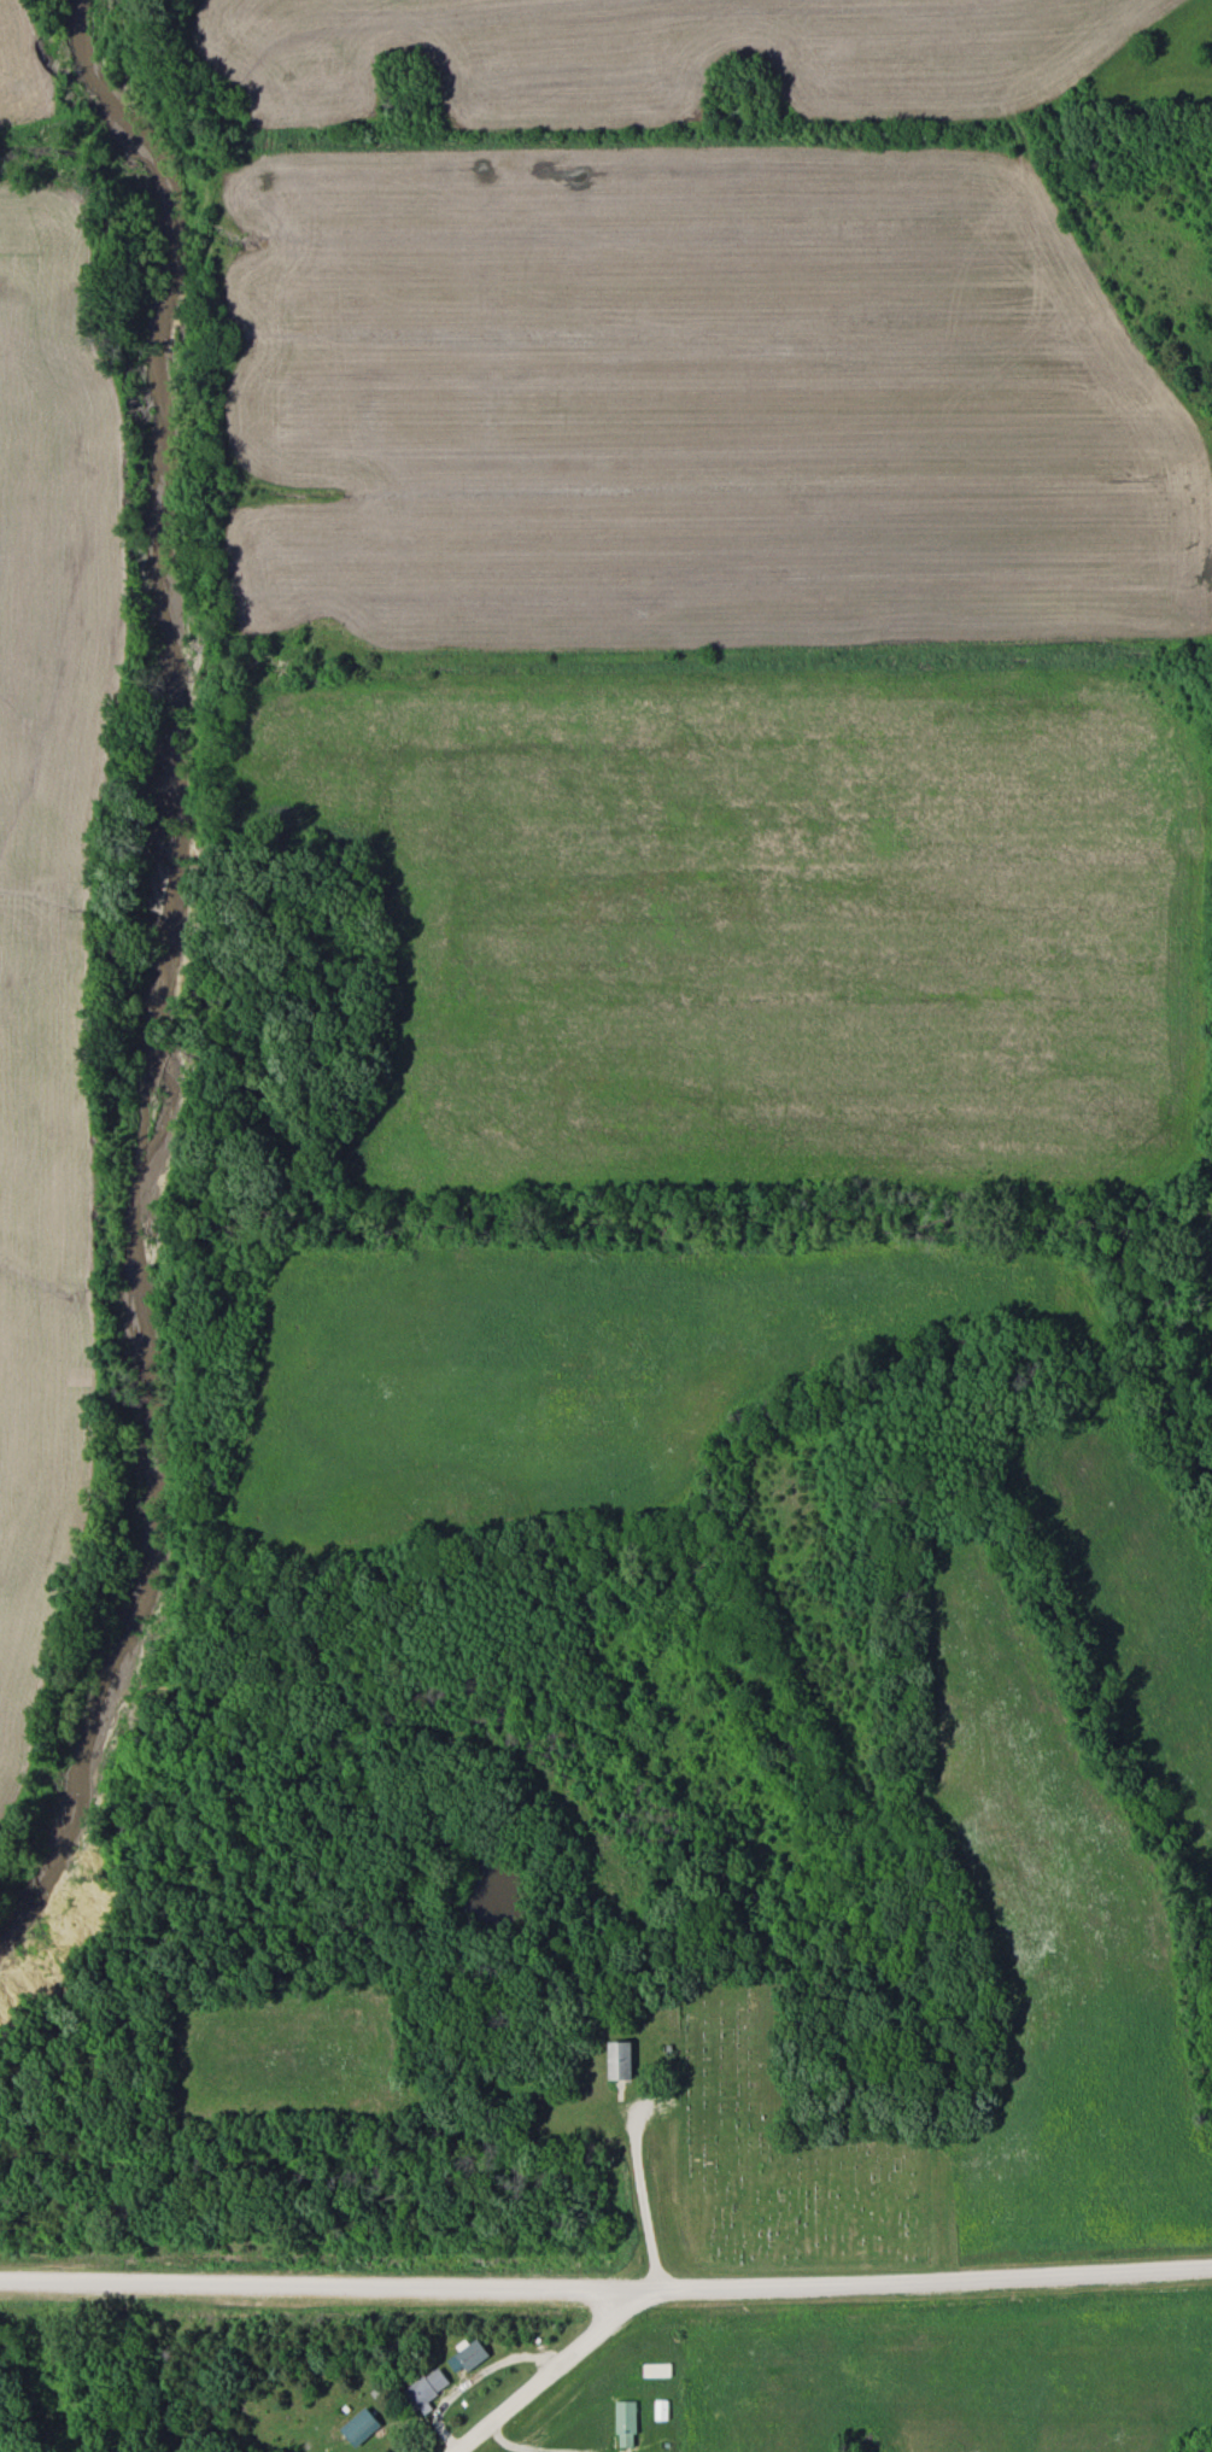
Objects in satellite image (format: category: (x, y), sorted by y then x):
building: (615, 2059)
park: (786, 2154)
road: (644, 2204)
road: (605, 2290)
building: (652, 2370)
road: (550, 2374)
building: (420, 2388)
building: (657, 2410)
building: (622, 2424)
building: (356, 2428)

